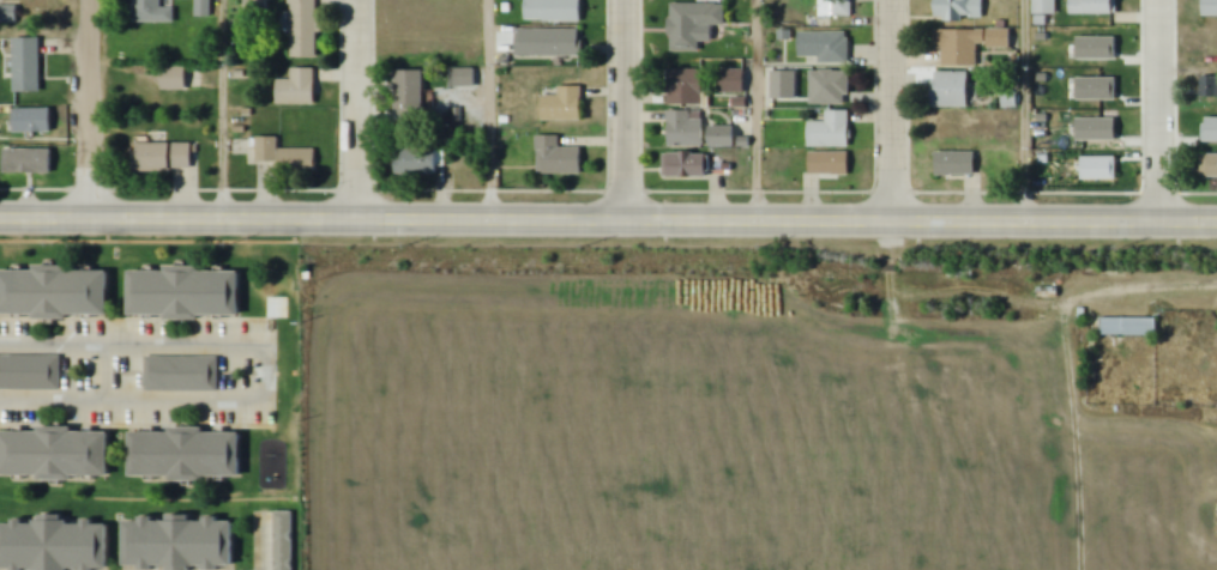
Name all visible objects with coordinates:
building: (255, 6)
building: (1095, 7)
building: (203, 8)
building: (836, 8)
building: (960, 10)
building: (554, 11)
building: (1044, 11)
building: (1203, 11)
building: (151, 12)
building: (7, 13)
building: (682, 18)
building: (303, 29)
building: (1001, 40)
building: (549, 43)
building: (959, 47)
building: (824, 48)
building: (26, 65)
building: (465, 78)
building: (174, 79)
building: (733, 81)
building: (785, 85)
building: (686, 87)
building: (831, 87)
building: (1209, 87)
building: (299, 89)
building: (952, 90)
building: (411, 93)
building: (564, 105)
road: (90, 110)
road: (222, 110)
road: (356, 110)
road: (490, 110)
road: (625, 110)
road: (757, 111)
road: (890, 111)
road: (1026, 111)
road: (1157, 111)
building: (32, 120)
building: (686, 129)
building: (831, 132)
building: (723, 137)
building: (558, 157)
building: (163, 158)
building: (285, 158)
building: (28, 160)
building: (421, 163)
building: (830, 164)
building: (957, 164)
building: (687, 165)
building: (1210, 166)
road: (608, 220)
building: (54, 293)
building: (186, 295)
road: (1024, 298)
building: (1127, 327)
building: (31, 366)
building: (182, 368)
road: (266, 372)
building: (55, 455)
building: (187, 455)
building: (283, 540)
building: (181, 544)
building: (55, 546)

